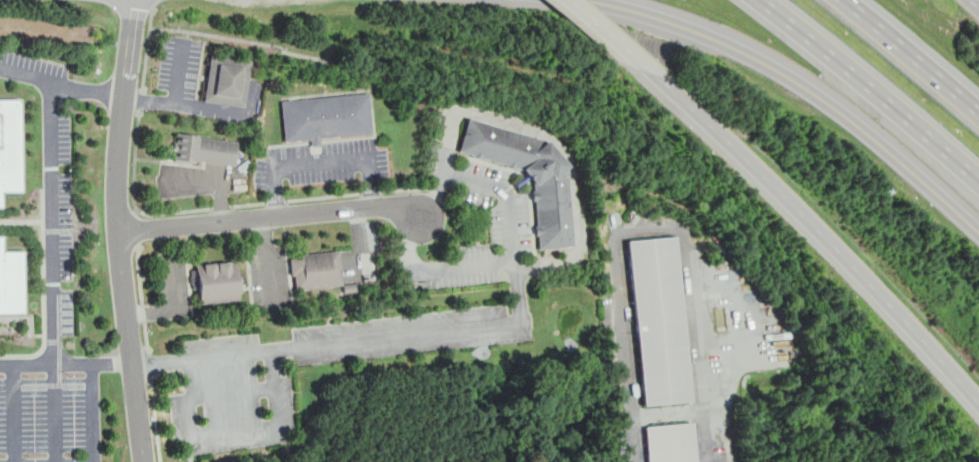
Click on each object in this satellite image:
road: (151, 4)
road: (974, 4)
street lamp: (108, 16)
road: (608, 36)
road: (130, 38)
road: (263, 43)
road: (148, 48)
road: (913, 55)
building: (227, 80)
road: (794, 82)
road: (61, 83)
road: (871, 88)
road: (141, 99)
street lamp: (147, 111)
building: (326, 115)
road: (373, 121)
building: (315, 141)
building: (10, 145)
road: (315, 145)
building: (204, 148)
road: (171, 152)
road: (317, 158)
road: (173, 162)
road: (323, 163)
building: (524, 174)
road: (191, 180)
road: (409, 189)
street lamp: (867, 189)
road: (372, 192)
road: (221, 194)
road: (324, 196)
road: (134, 197)
road: (276, 200)
road: (249, 204)
street lamp: (140, 206)
road: (223, 206)
road: (136, 210)
road: (271, 215)
road: (51, 221)
road: (574, 222)
road: (136, 228)
road: (655, 229)
road: (819, 233)
road: (360, 243)
road: (266, 261)
road: (122, 269)
building: (313, 269)
road: (139, 273)
road: (164, 275)
road: (150, 276)
building: (12, 278)
building: (214, 282)
street lamp: (67, 284)
building: (349, 286)
street lamp: (527, 297)
road: (170, 305)
street lamp: (433, 309)
road: (144, 312)
building: (660, 320)
street lamp: (309, 322)
road: (447, 327)
street lamp: (150, 329)
road: (147, 336)
street lamp: (181, 338)
street lamp: (376, 358)
road: (66, 362)
road: (150, 362)
road: (186, 363)
road: (272, 369)
street lamp: (75, 373)
road: (152, 375)
road: (274, 388)
road: (154, 403)
street lamp: (264, 405)
road: (13, 412)
road: (55, 412)
road: (91, 412)
street lamp: (201, 414)
road: (726, 421)
street lamp: (154, 440)
building: (670, 442)
street lamp: (74, 453)

